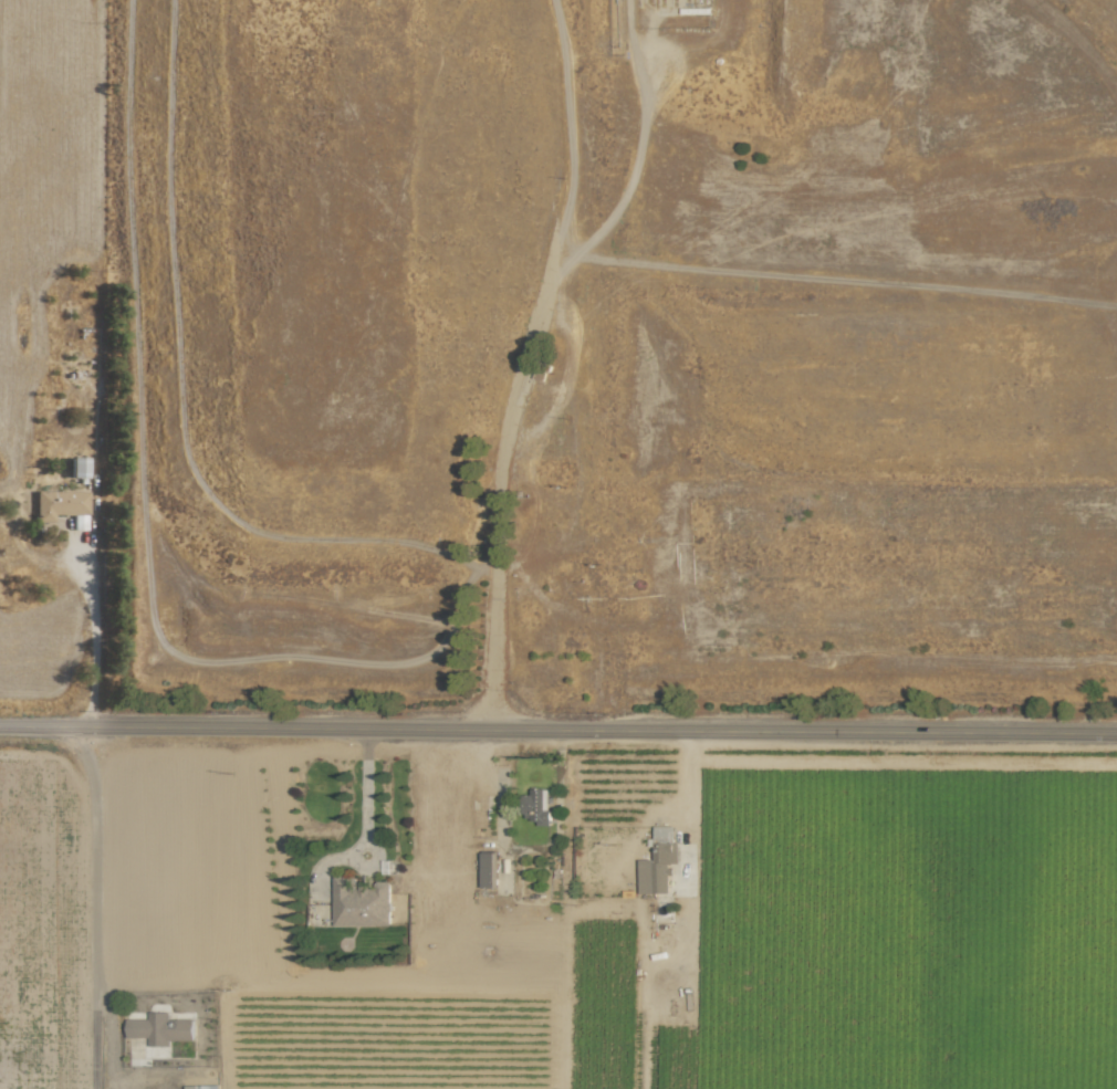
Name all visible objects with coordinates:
road: (528, 348)
building: (79, 468)
building: (60, 504)
building: (80, 522)
road: (98, 631)
road: (558, 730)
road: (366, 790)
road: (687, 792)
building: (536, 806)
building: (659, 862)
building: (489, 870)
building: (361, 902)
road: (95, 907)
building: (161, 1028)
building: (202, 1087)

